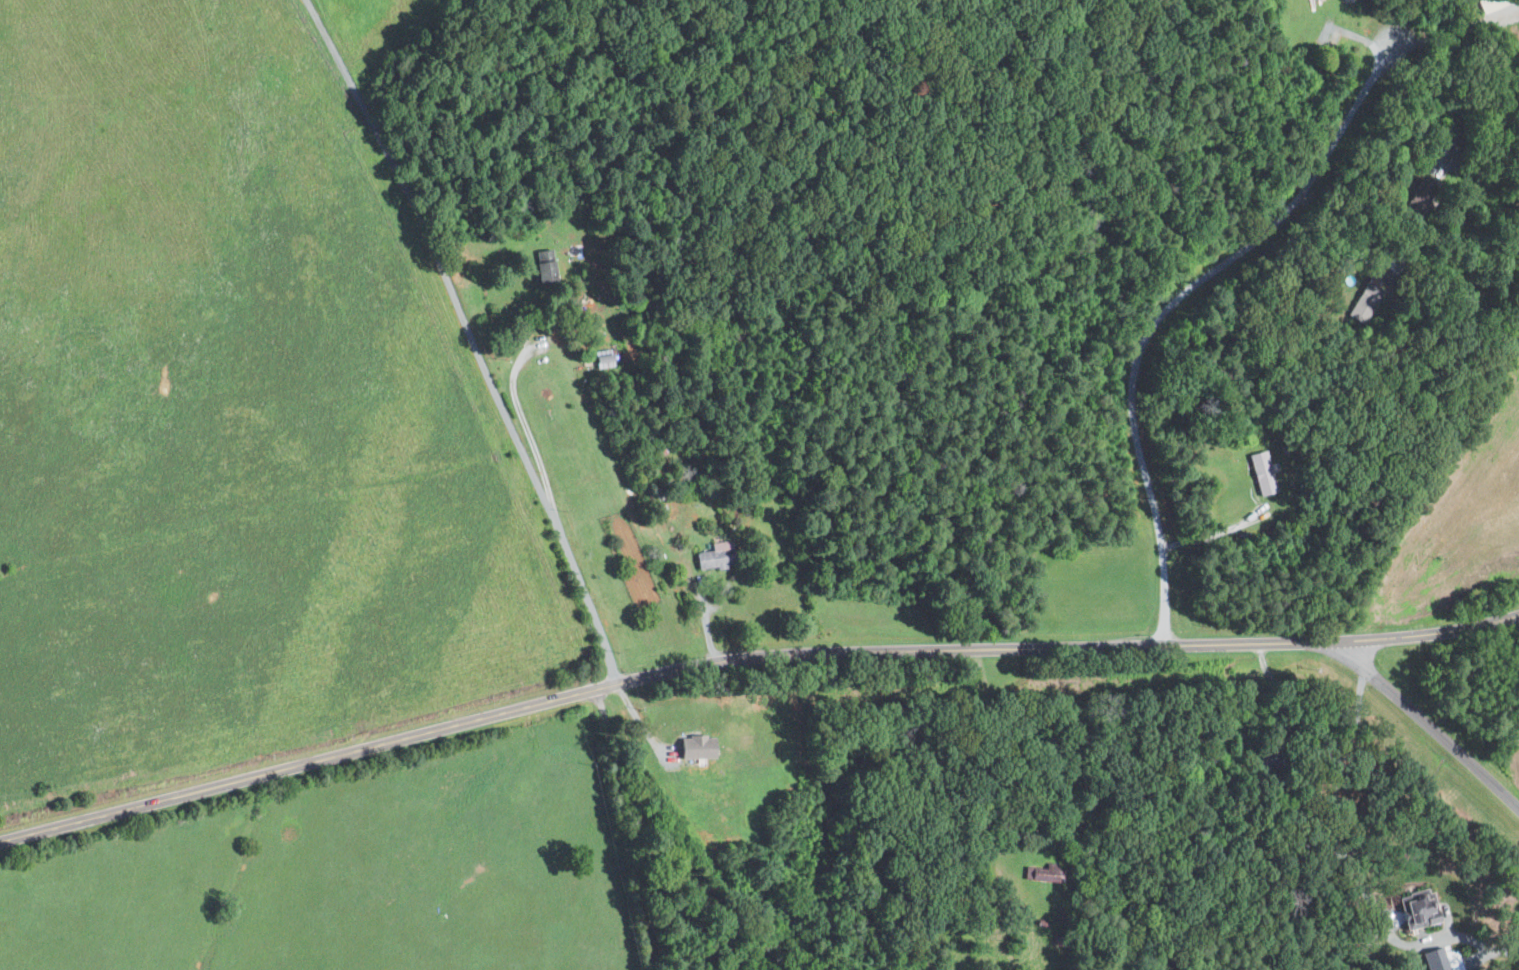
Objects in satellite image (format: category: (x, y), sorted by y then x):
road: (1451, 30)
road: (1433, 104)
road: (1337, 217)
building: (543, 265)
road: (1170, 311)
road: (472, 338)
road: (514, 393)
building: (1262, 473)
road: (1216, 533)
building: (714, 557)
road: (702, 613)
road: (749, 655)
road: (643, 726)
road: (1429, 729)
road: (989, 735)
building: (698, 744)
road: (615, 831)
road: (1359, 868)
building: (1418, 910)
building: (1435, 959)

